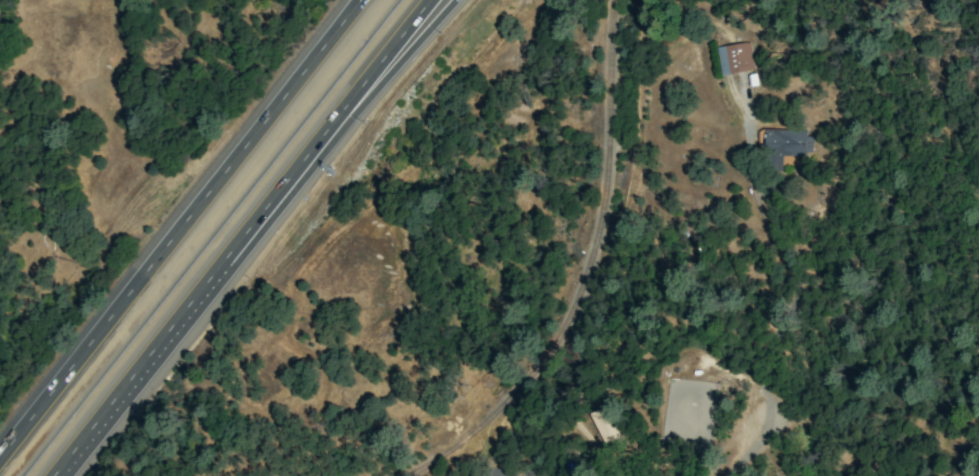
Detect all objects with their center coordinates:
building: (733, 58)
road: (389, 63)
building: (782, 147)
road: (183, 230)
road: (246, 236)
road: (782, 286)
railway: (578, 294)
building: (603, 424)
road: (735, 468)

